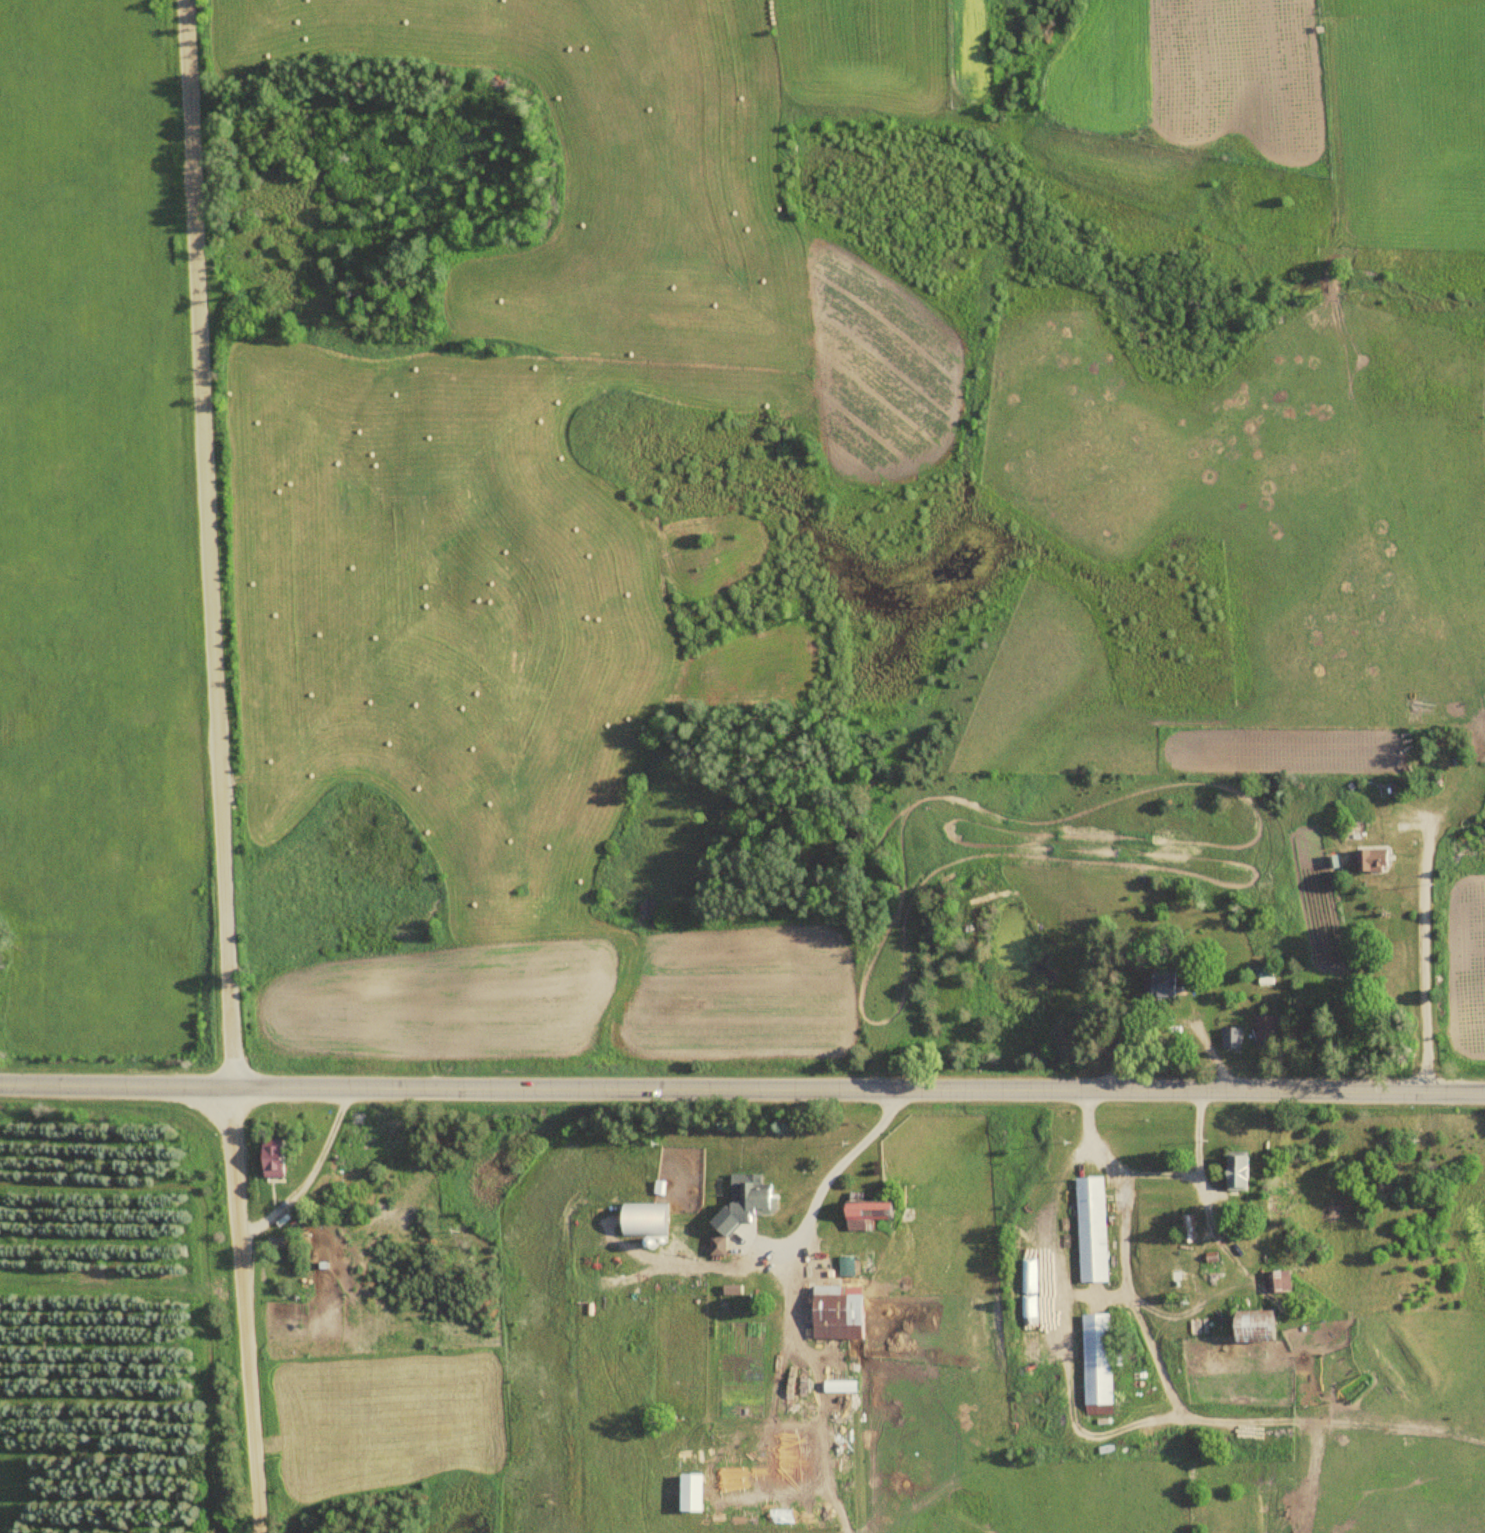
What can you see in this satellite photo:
road: (221, 766)
building: (1370, 860)
building: (1010, 943)
building: (1164, 984)
building: (1269, 1028)
building: (1234, 1036)
road: (742, 1088)
building: (282, 1155)
building: (1243, 1169)
building: (763, 1196)
building: (877, 1211)
building: (652, 1218)
building: (1191, 1227)
building: (1095, 1228)
building: (723, 1244)
building: (1282, 1280)
building: (845, 1311)
building: (1269, 1322)
building: (1102, 1362)

